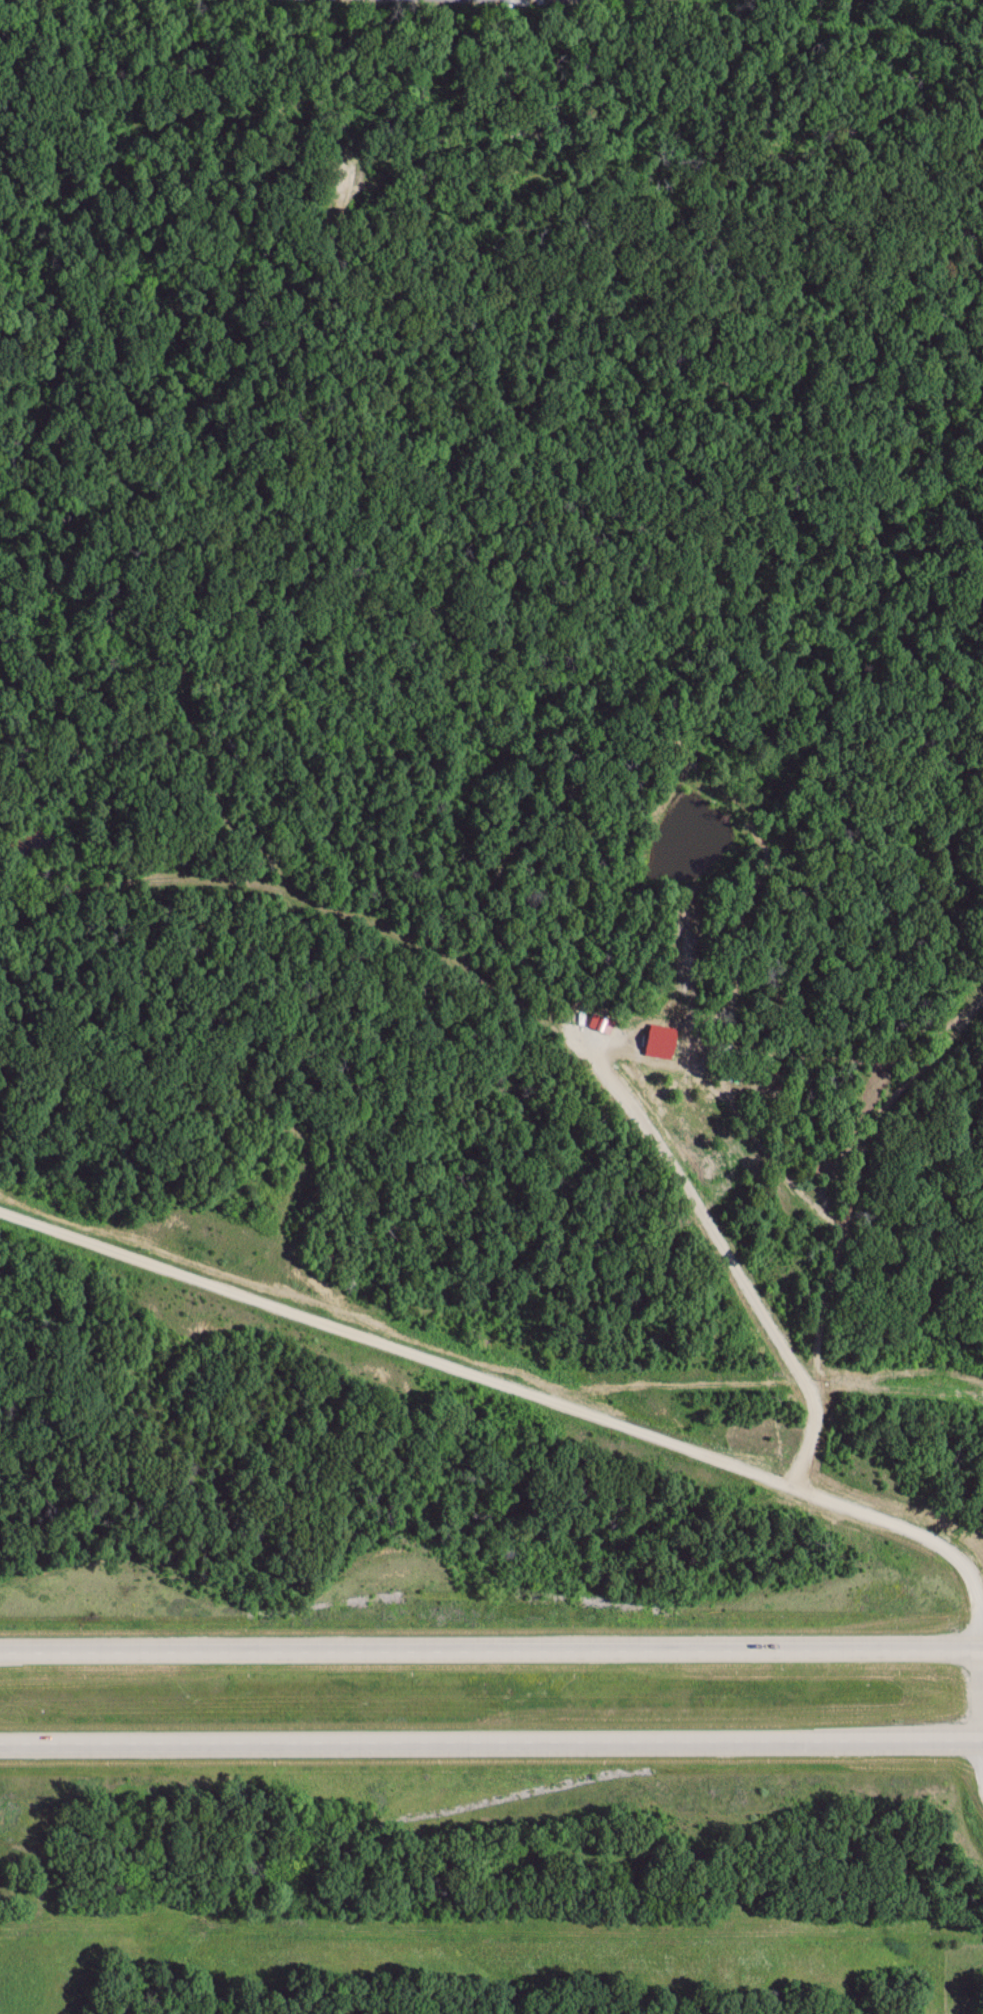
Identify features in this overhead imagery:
road: (569, 1405)
road: (491, 1646)
road: (491, 1738)
road: (981, 1758)

